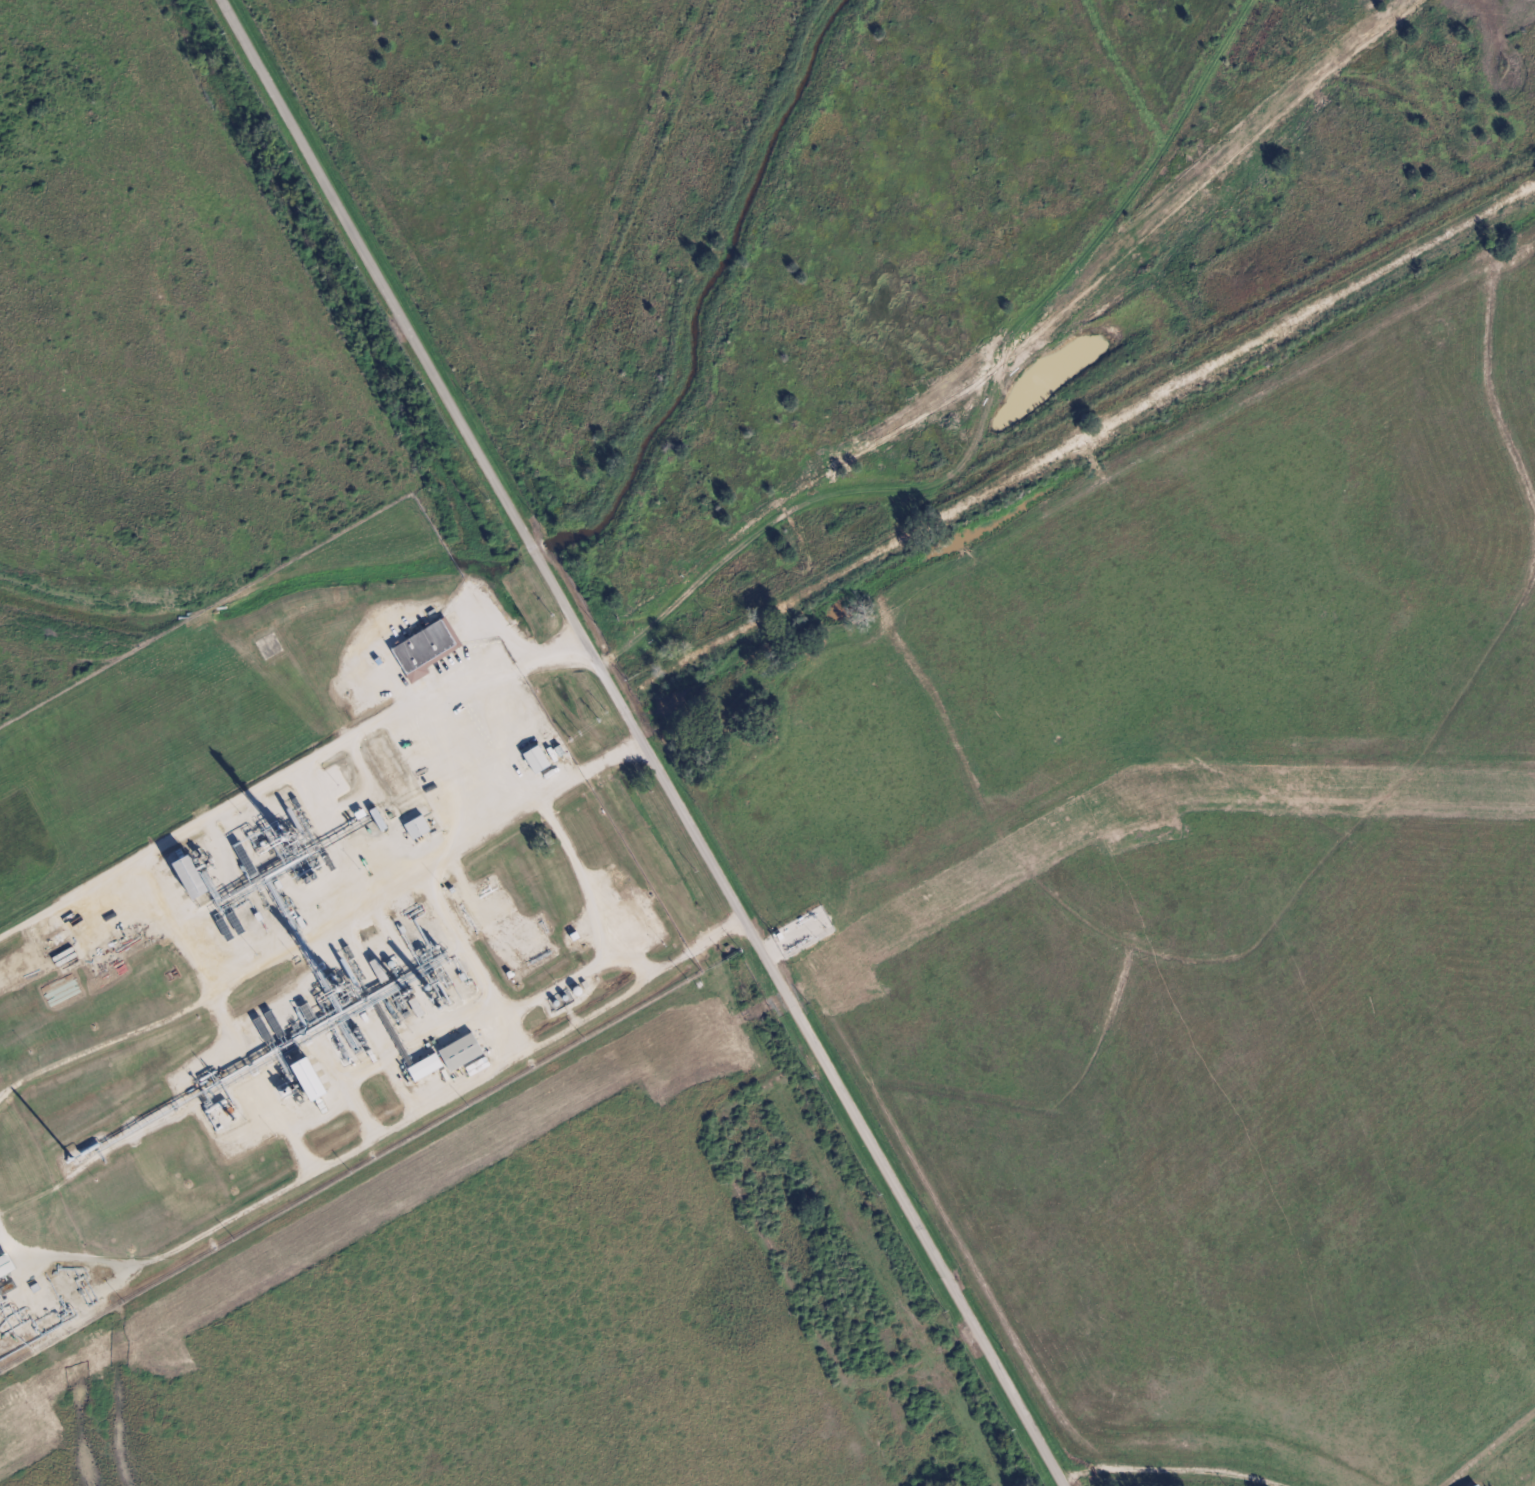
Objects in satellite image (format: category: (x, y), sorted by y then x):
road: (991, 410)
building: (422, 649)
road: (642, 739)
building: (534, 760)
building: (377, 819)
building: (415, 827)
building: (183, 876)
building: (459, 1052)
building: (424, 1068)
building: (303, 1078)
building: (4, 1265)
road: (1062, 1482)
building: (1477, 1485)

